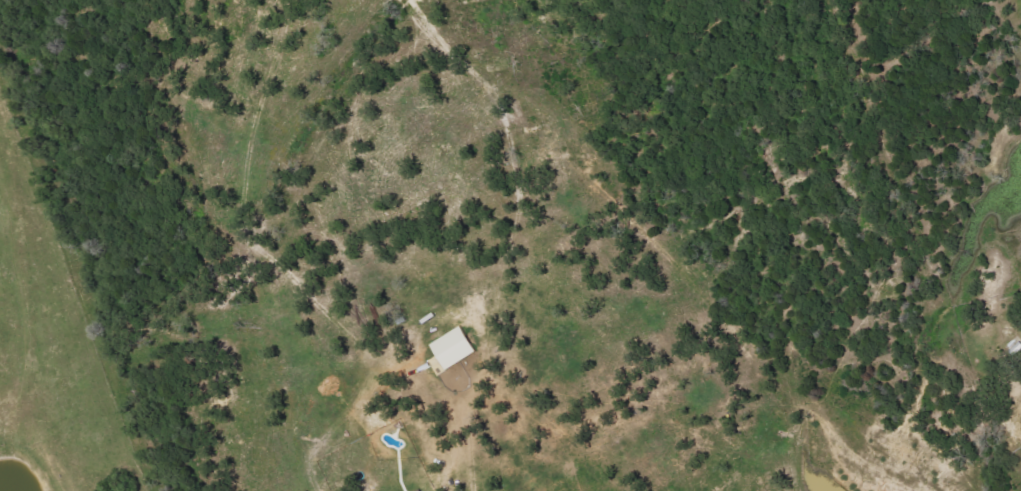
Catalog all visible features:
building: (455, 347)
building: (422, 490)

